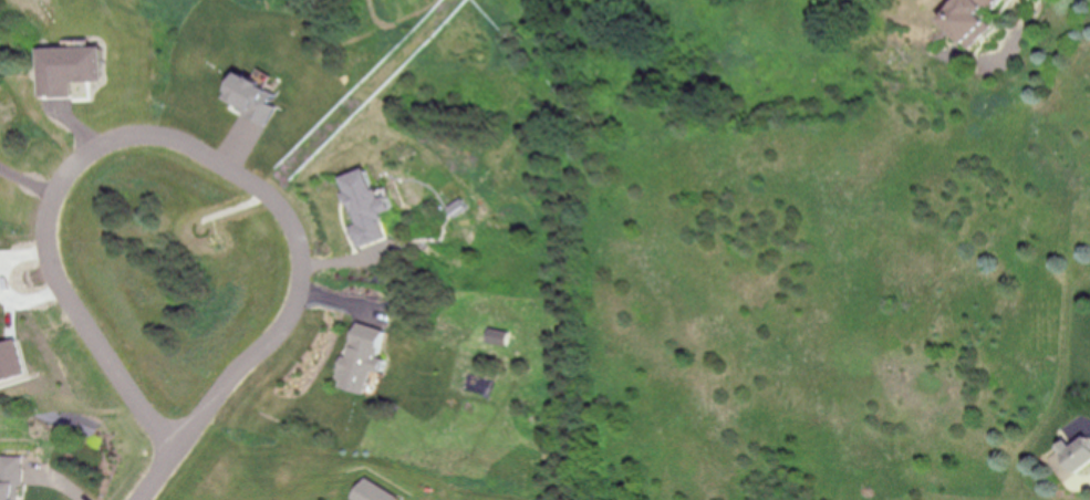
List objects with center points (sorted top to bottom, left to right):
building: (968, 18)
road: (165, 139)
building: (1077, 454)
road: (152, 476)

